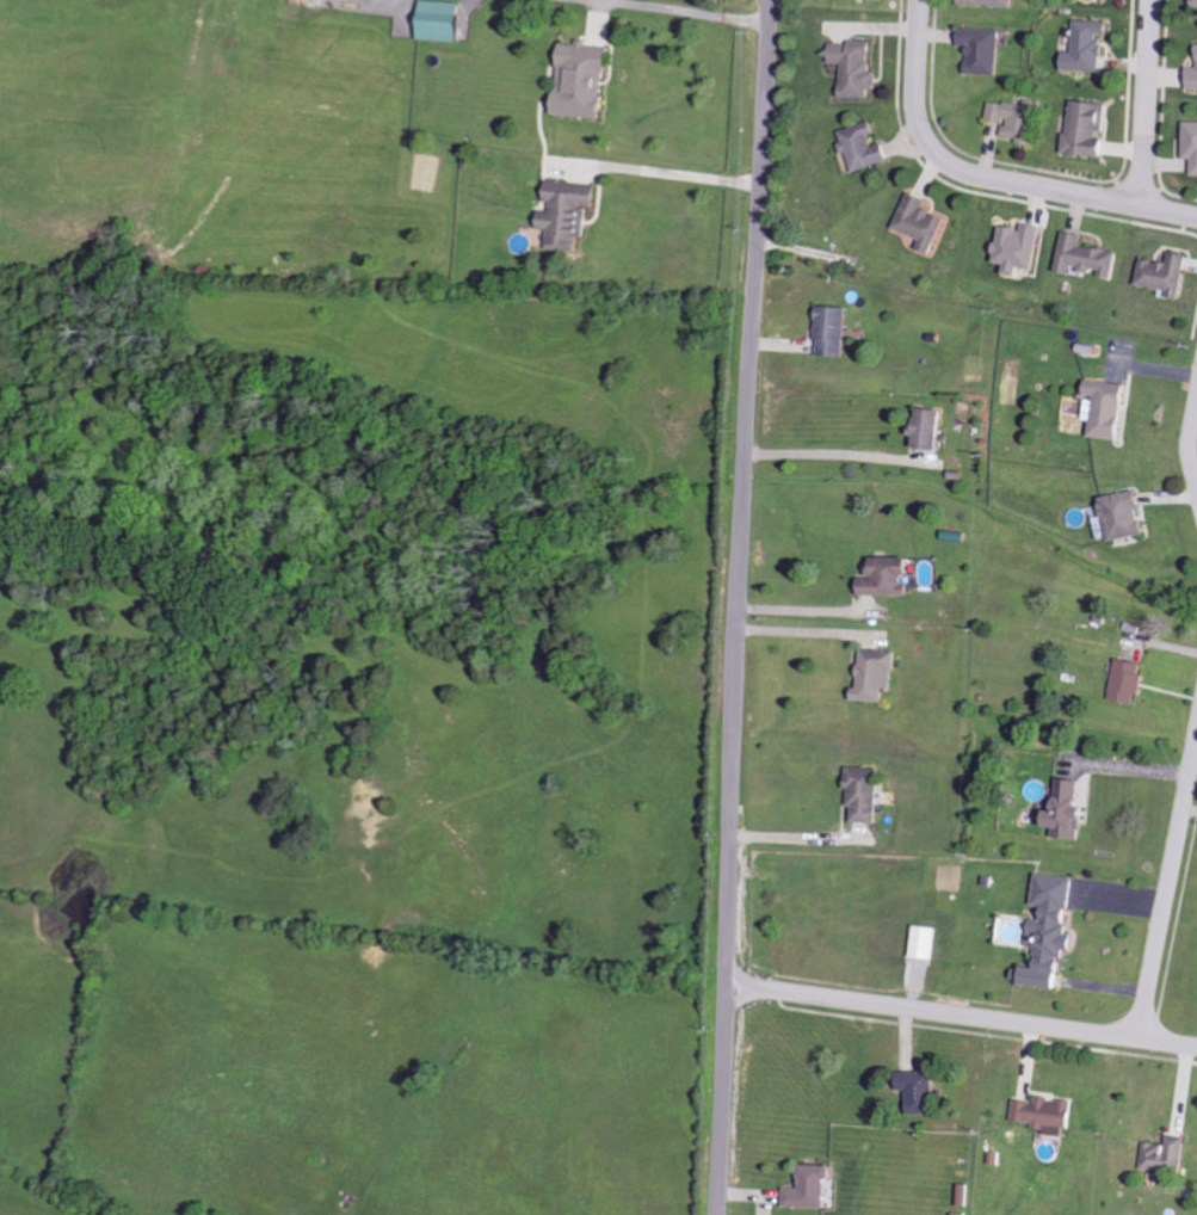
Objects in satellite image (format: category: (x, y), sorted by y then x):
building: (992, 2)
road: (921, 10)
road: (679, 11)
building: (446, 20)
building: (1091, 47)
building: (986, 49)
building: (860, 68)
building: (587, 80)
road: (1148, 103)
building: (1019, 121)
building: (1091, 129)
building: (1192, 141)
building: (868, 147)
road: (664, 173)
road: (997, 178)
building: (570, 216)
building: (925, 222)
building: (1023, 247)
building: (1088, 257)
building: (1168, 273)
building: (838, 332)
building: (934, 428)
road: (1192, 440)
road: (833, 455)
building: (1128, 516)
building: (893, 576)
road: (741, 606)
road: (804, 610)
building: (880, 676)
building: (1131, 681)
building: (868, 794)
building: (1072, 812)
road: (792, 839)
road: (1167, 892)
building: (1054, 931)
building: (928, 942)
road: (961, 1016)
building: (924, 1092)
building: (1048, 1115)
building: (1168, 1157)
building: (814, 1189)

